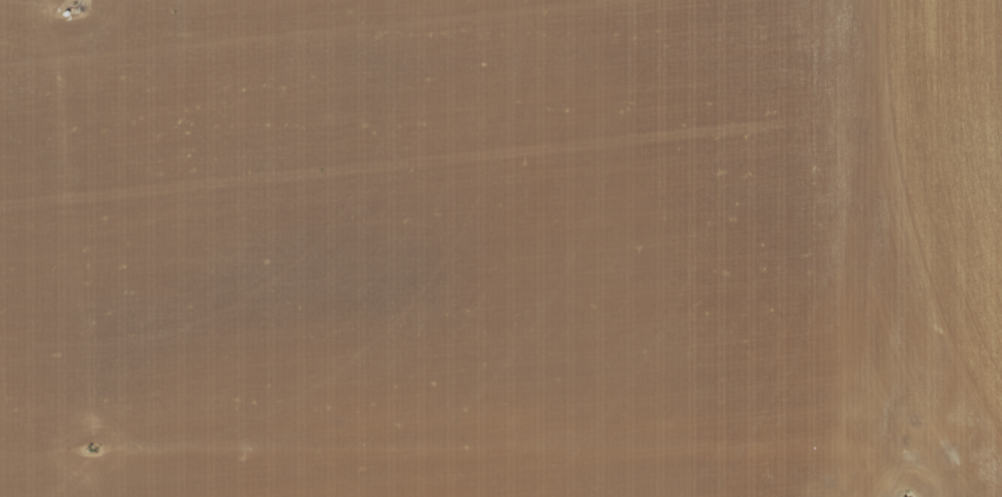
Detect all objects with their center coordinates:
road: (914, 248)
road: (535, 454)

